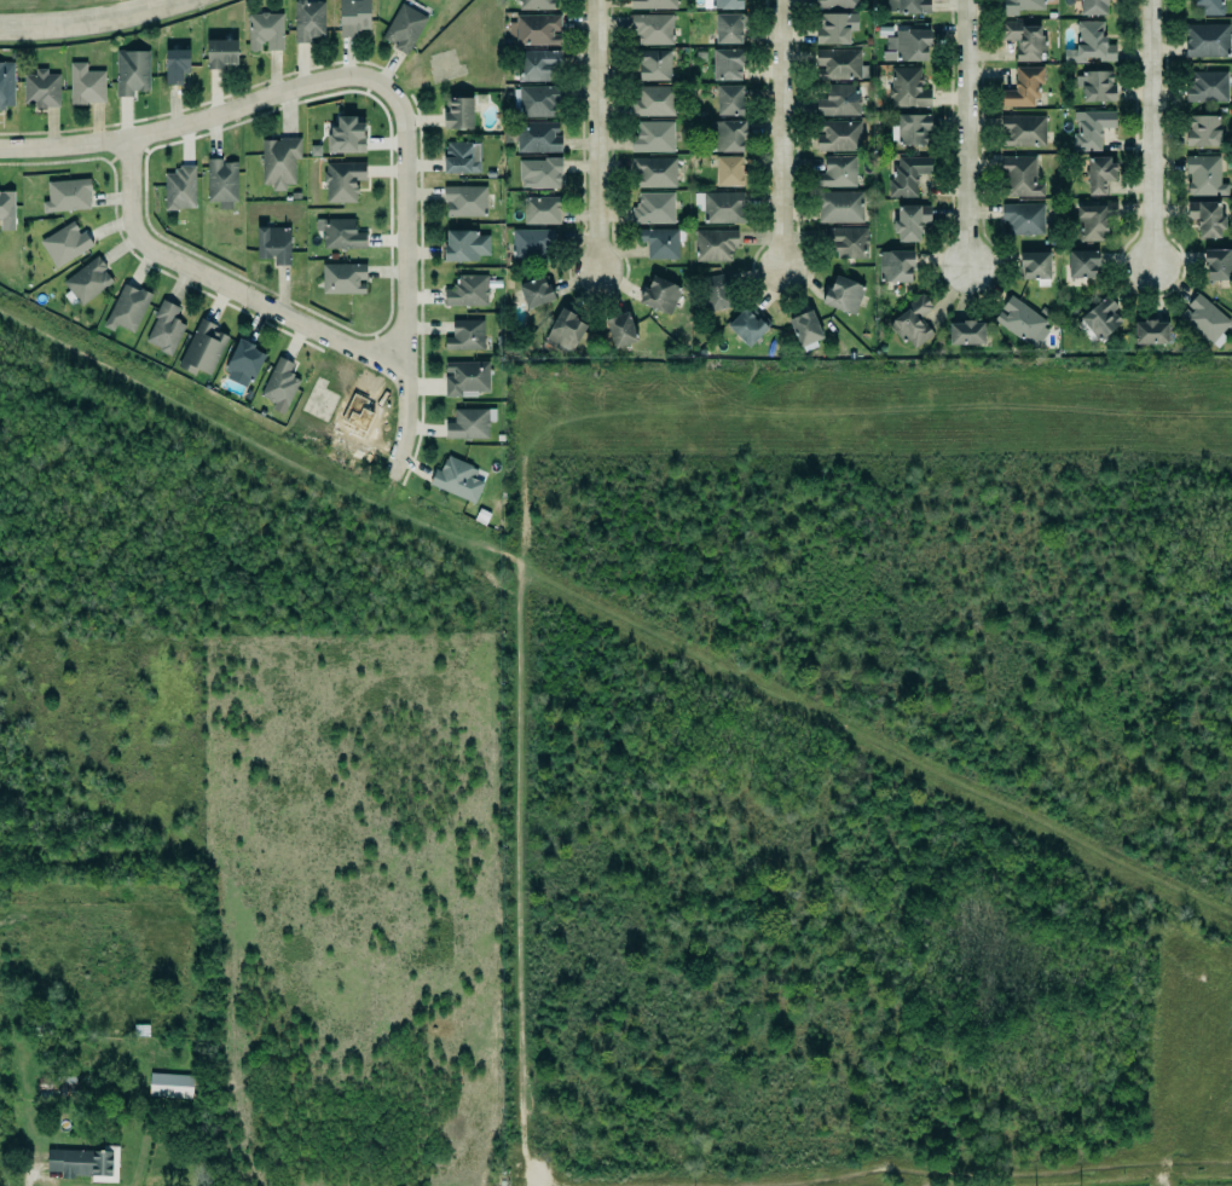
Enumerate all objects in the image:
building: (723, 2)
building: (533, 4)
building: (653, 4)
building: (839, 4)
building: (908, 6)
building: (1020, 6)
building: (1093, 7)
building: (1210, 7)
building: (354, 17)
building: (308, 21)
building: (832, 25)
building: (401, 28)
building: (650, 28)
building: (730, 28)
road: (103, 29)
building: (534, 30)
building: (265, 31)
building: (1088, 39)
building: (1024, 40)
building: (1204, 40)
building: (907, 46)
building: (218, 52)
building: (1106, 53)
building: (725, 63)
building: (835, 63)
building: (173, 64)
building: (538, 64)
building: (654, 65)
building: (129, 70)
building: (5, 83)
building: (82, 83)
building: (1094, 85)
building: (1204, 86)
road: (383, 87)
building: (39, 88)
building: (908, 88)
building: (1023, 88)
building: (838, 98)
building: (728, 100)
building: (538, 102)
building: (654, 102)
building: (458, 114)
building: (1089, 128)
building: (913, 129)
building: (1020, 129)
building: (1201, 129)
road: (1152, 132)
road: (966, 133)
road: (782, 134)
building: (837, 134)
road: (596, 135)
building: (347, 137)
building: (538, 137)
building: (650, 137)
building: (729, 137)
building: (462, 158)
building: (277, 161)
building: (727, 170)
building: (538, 172)
building: (652, 172)
building: (838, 172)
building: (1099, 174)
building: (908, 175)
building: (1202, 175)
building: (1020, 177)
building: (343, 181)
building: (222, 183)
building: (177, 189)
building: (64, 195)
building: (464, 199)
building: (724, 207)
building: (840, 207)
building: (652, 208)
building: (7, 209)
building: (539, 209)
building: (1022, 218)
building: (1207, 218)
building: (910, 221)
building: (1093, 221)
building: (337, 233)
building: (658, 241)
building: (845, 241)
building: (65, 243)
building: (713, 243)
building: (274, 244)
building: (532, 244)
building: (465, 245)
building: (1080, 264)
building: (1033, 265)
building: (1217, 265)
building: (896, 266)
building: (343, 278)
building: (85, 280)
road: (225, 285)
building: (465, 290)
building: (719, 291)
building: (533, 293)
building: (658, 295)
building: (844, 295)
building: (125, 308)
building: (1097, 319)
building: (1205, 319)
building: (1019, 322)
building: (913, 323)
building: (746, 324)
building: (164, 328)
building: (803, 328)
building: (566, 330)
building: (621, 330)
building: (966, 332)
building: (1149, 332)
building: (463, 335)
building: (201, 348)
building: (243, 364)
building: (463, 376)
building: (280, 386)
building: (468, 424)
building: (455, 479)
building: (58, 1086)
building: (170, 1086)
building: (85, 1163)

